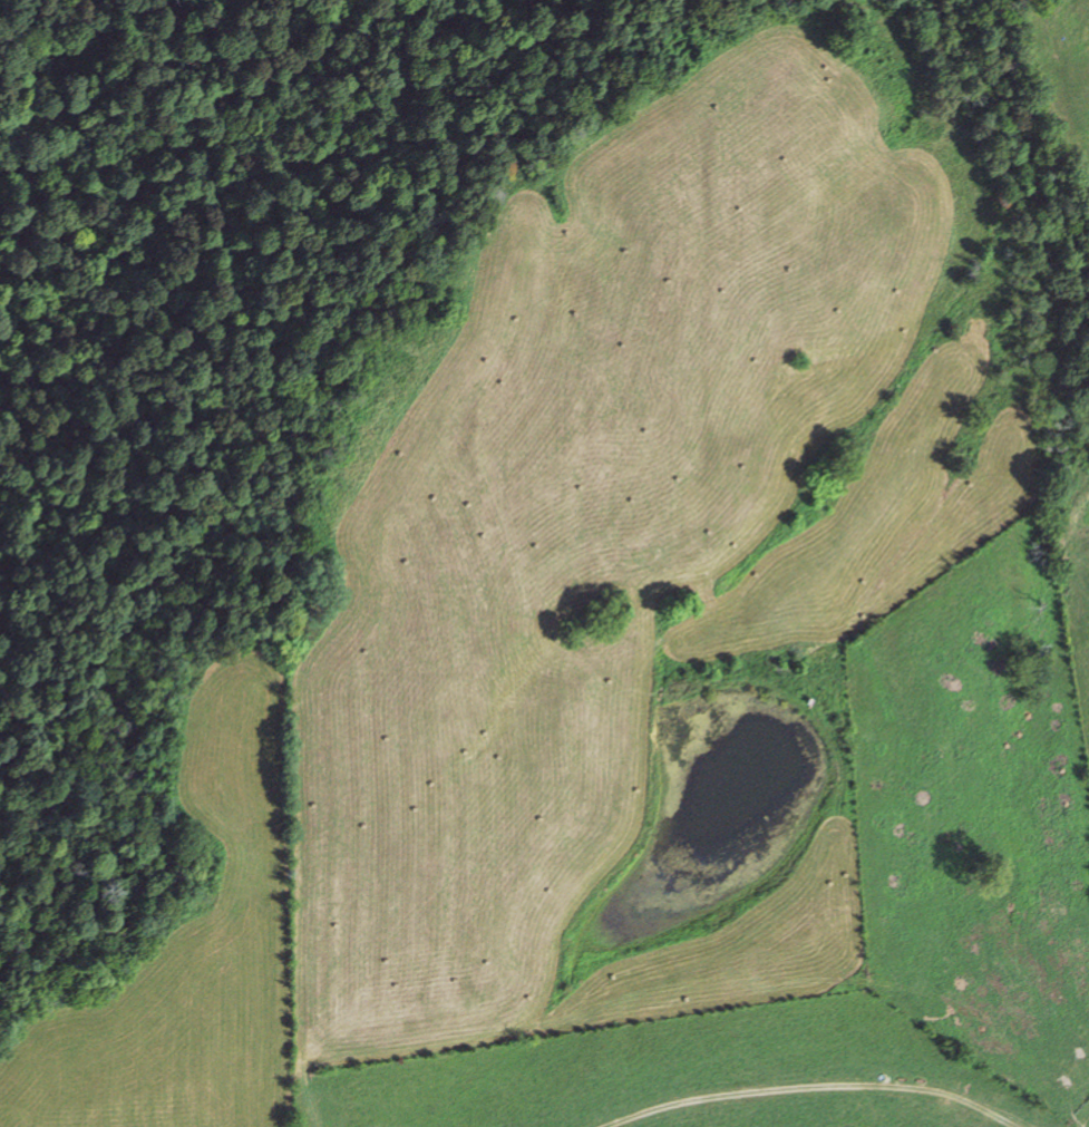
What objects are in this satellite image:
road: (931, 551)

